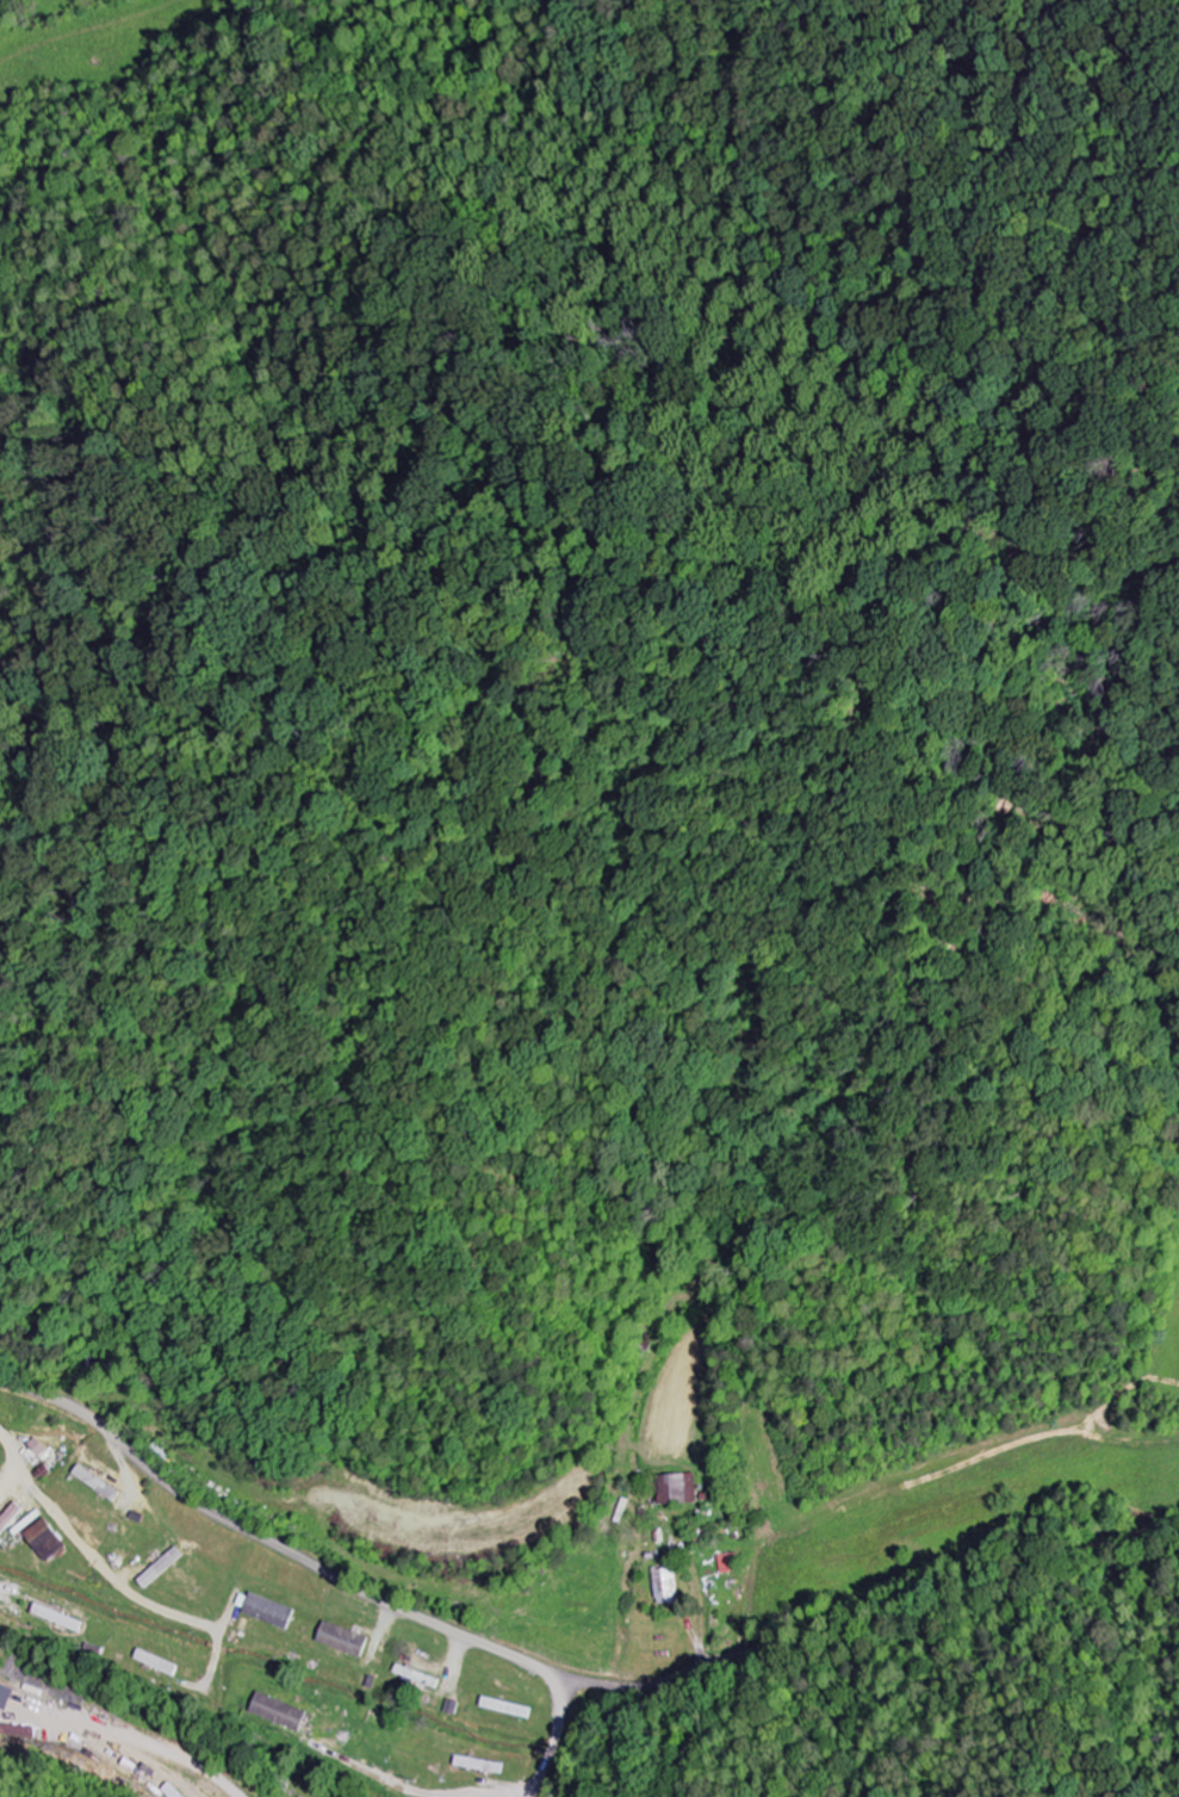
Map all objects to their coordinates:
building: (39, 1451)
building: (103, 1482)
building: (685, 1489)
building: (12, 1519)
building: (51, 1538)
building: (734, 1563)
building: (166, 1567)
road: (340, 1576)
building: (671, 1584)
building: (271, 1610)
building: (347, 1640)
building: (422, 1677)
building: (7, 1694)
building: (284, 1711)

